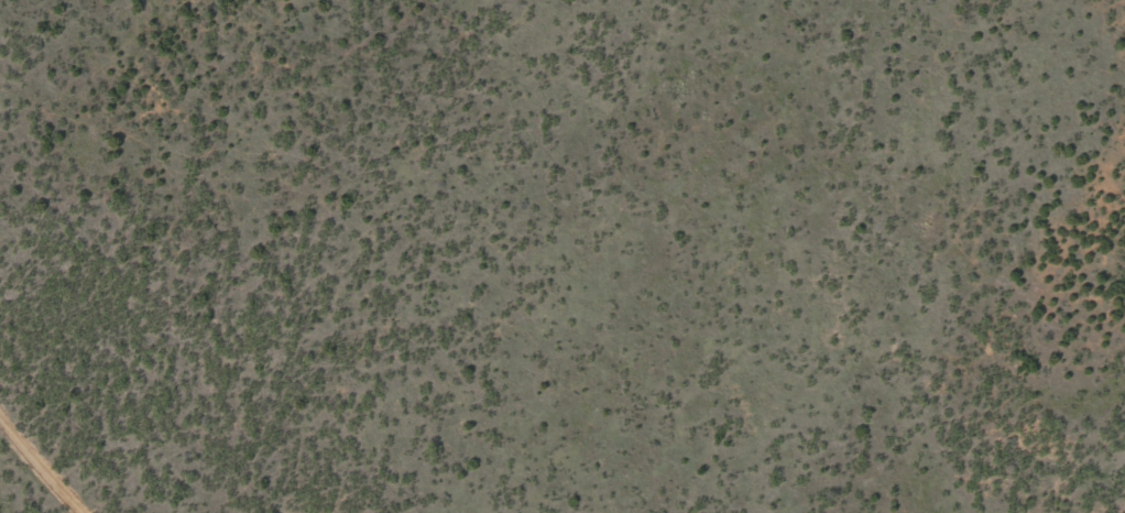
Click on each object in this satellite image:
road: (36, 456)

